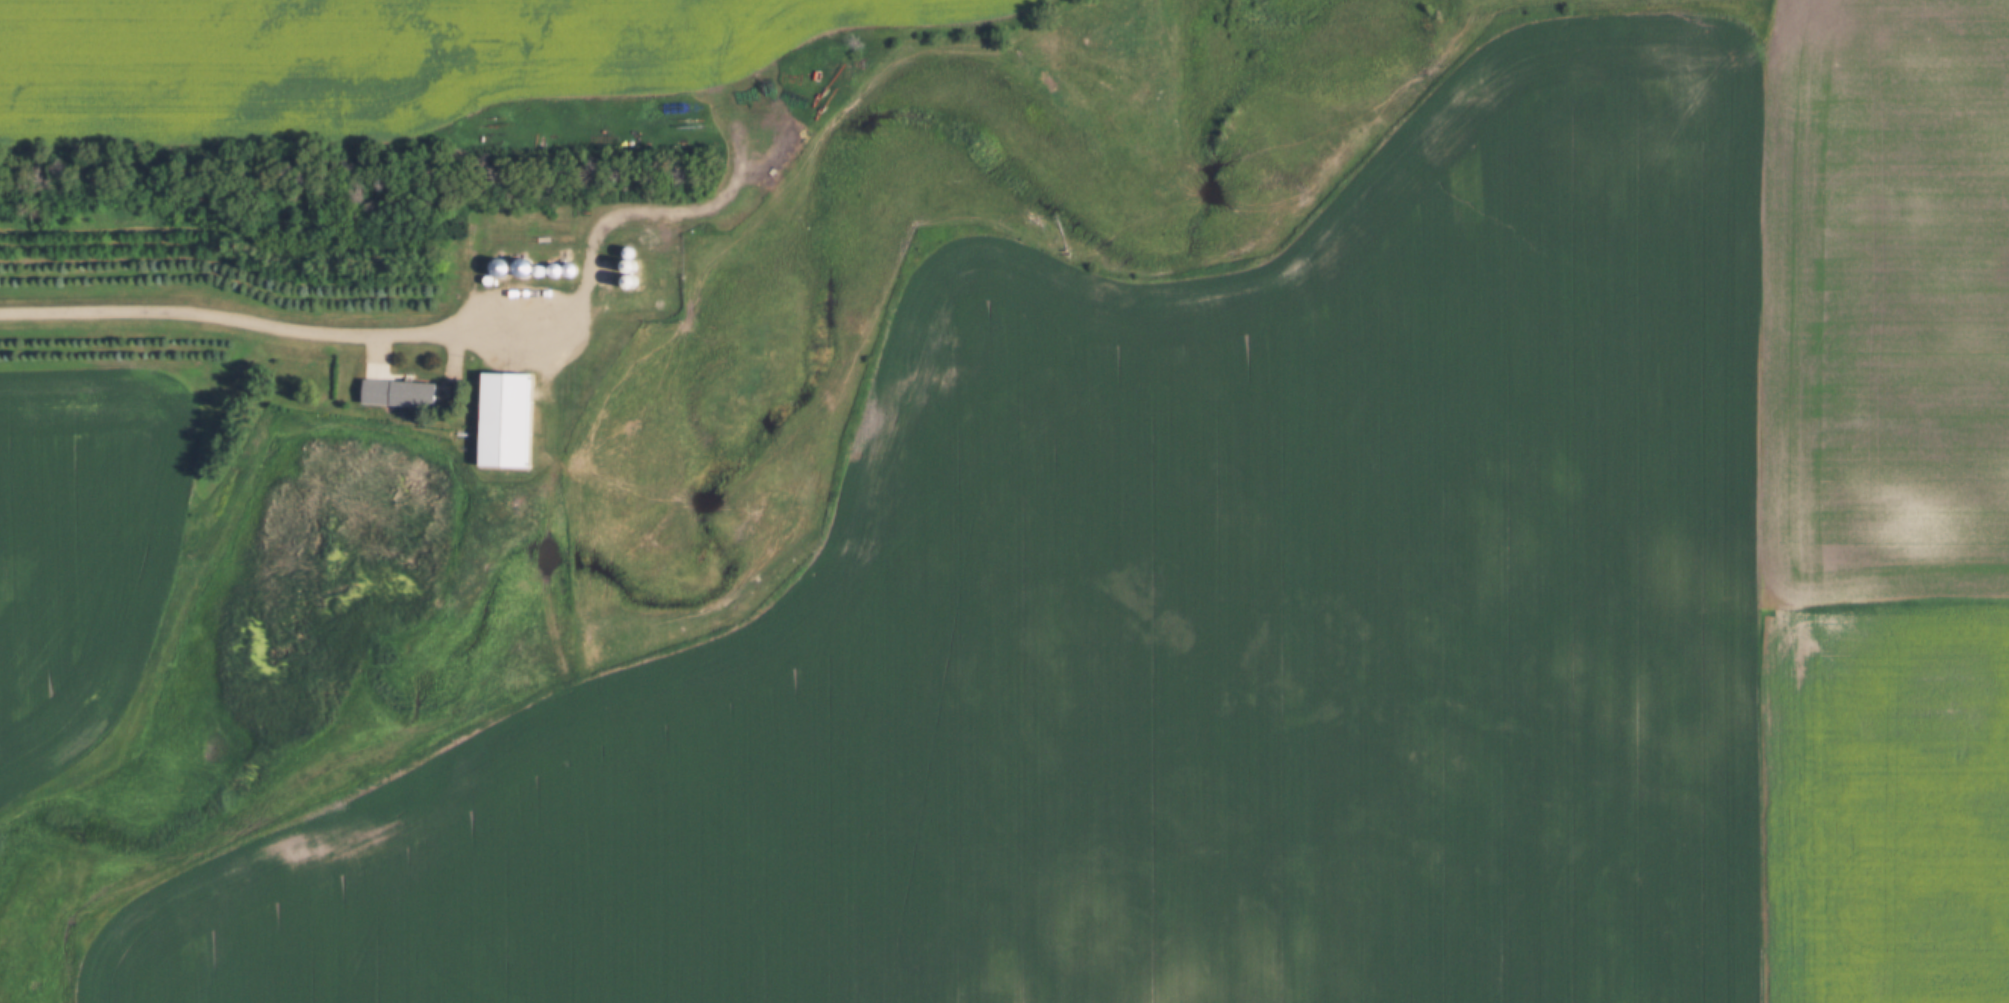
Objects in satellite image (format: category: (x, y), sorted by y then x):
road: (608, 207)
building: (475, 224)
building: (563, 271)
road: (265, 318)
building: (397, 394)
building: (502, 420)

